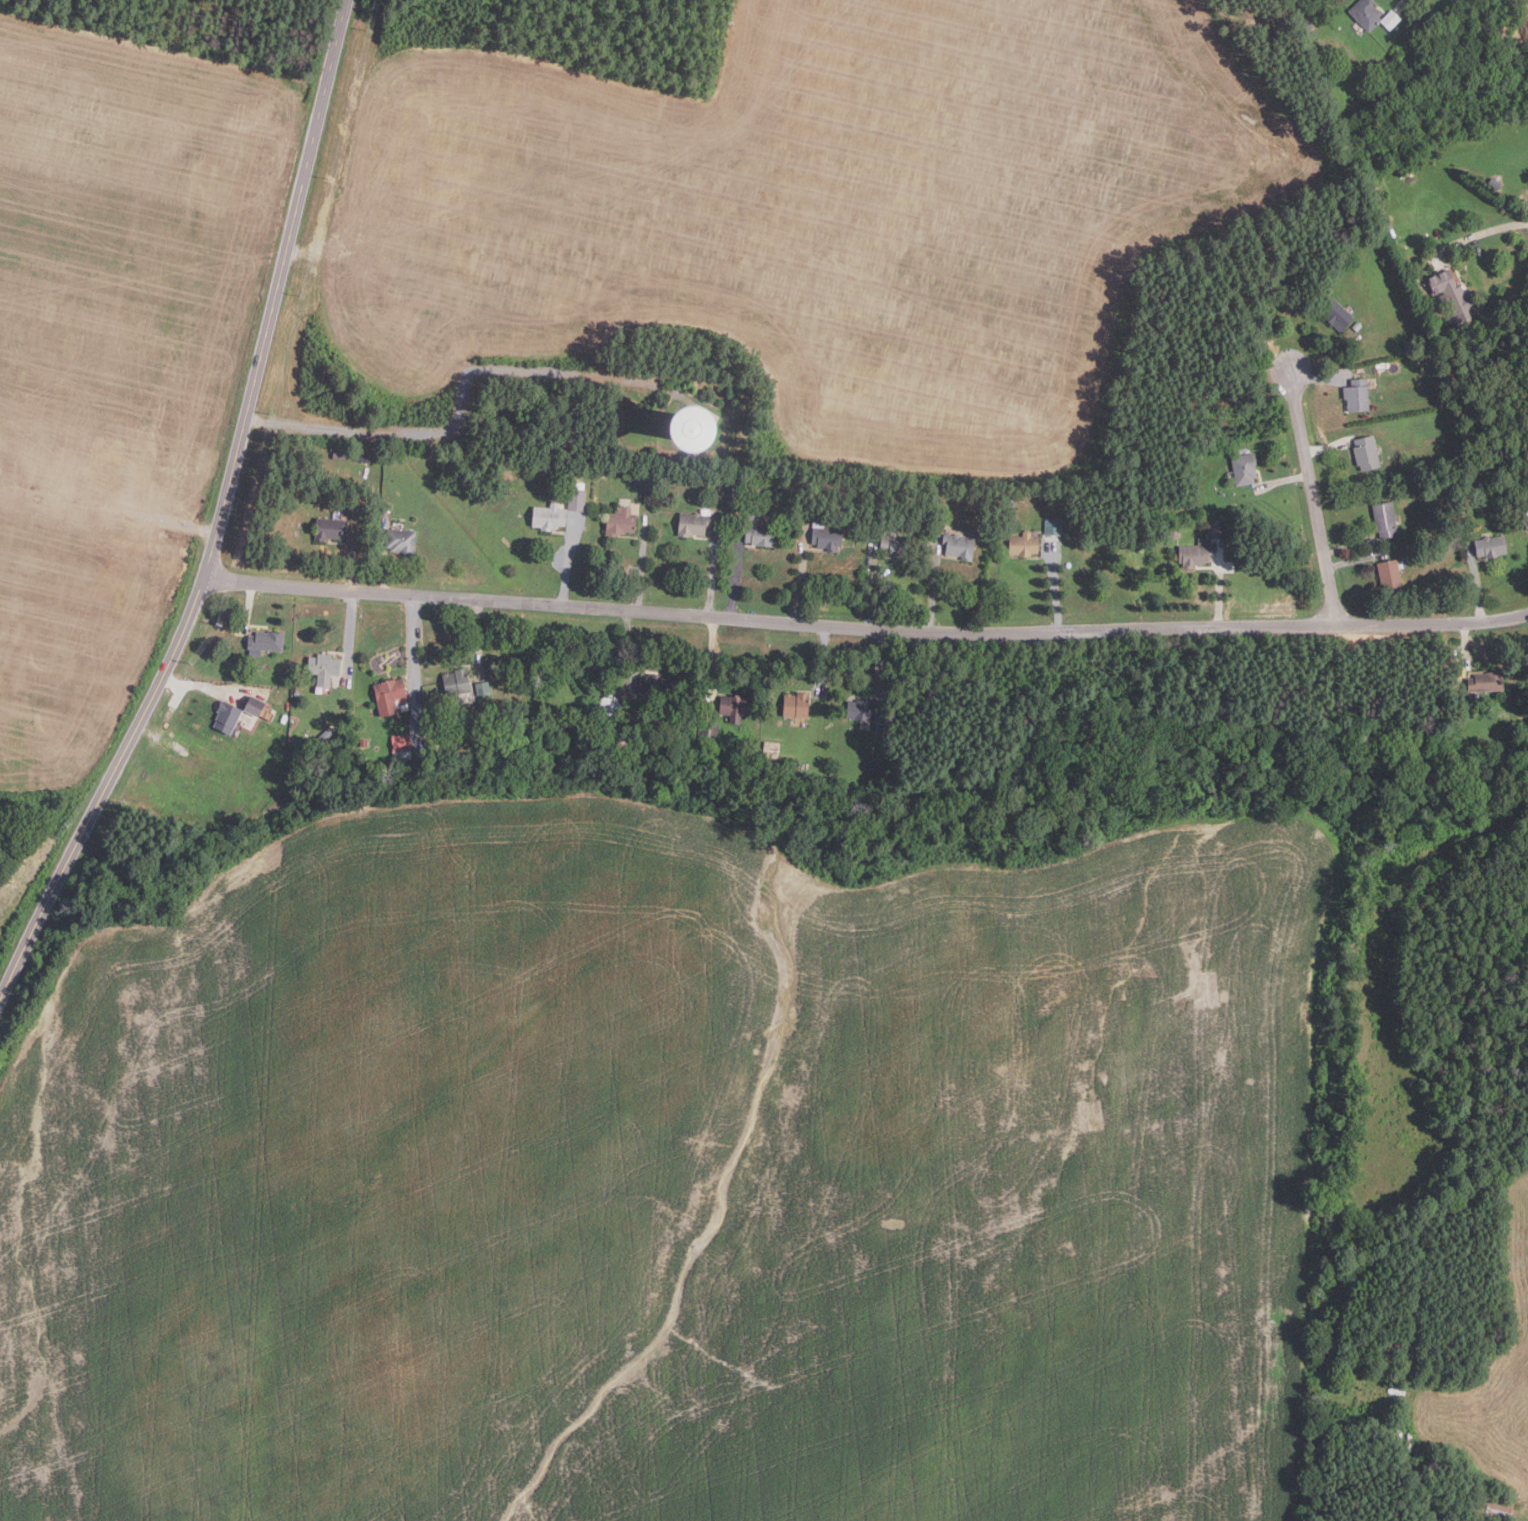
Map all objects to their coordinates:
road: (1400, 10)
building: (1366, 13)
road: (1474, 235)
building: (1453, 295)
building: (1442, 301)
building: (1338, 315)
building: (1358, 327)
road: (1318, 353)
road: (1315, 378)
building: (1358, 394)
building: (1444, 400)
road: (464, 405)
water tower: (687, 415)
building: (666, 429)
road: (1326, 447)
building: (1367, 452)
building: (1245, 468)
building: (640, 478)
building: (721, 481)
road: (1283, 482)
building: (740, 492)
road: (1315, 496)
building: (577, 499)
building: (1523, 510)
building: (549, 515)
building: (1386, 519)
road: (222, 520)
building: (621, 520)
building: (694, 522)
building: (1053, 526)
building: (330, 527)
building: (1216, 528)
building: (758, 531)
building: (1174, 532)
building: (826, 536)
building: (401, 540)
building: (1024, 544)
building: (896, 545)
building: (960, 545)
road: (1349, 545)
building: (1491, 545)
building: (1196, 552)
road: (570, 560)
road: (382, 561)
road: (1353, 561)
road: (355, 565)
road: (640, 569)
building: (136, 570)
road: (712, 570)
road: (735, 571)
building: (1391, 573)
road: (802, 578)
road: (1220, 586)
road: (1054, 587)
road: (1478, 587)
road: (933, 588)
road: (871, 589)
road: (248, 606)
road: (866, 628)
road: (350, 630)
road: (479, 635)
building: (265, 641)
road: (630, 645)
road: (1465, 647)
road: (824, 658)
road: (711, 664)
building: (324, 667)
road: (416, 669)
building: (285, 675)
road: (884, 675)
building: (1487, 681)
building: (457, 682)
building: (653, 685)
road: (203, 686)
building: (483, 688)
building: (297, 693)
building: (389, 694)
building: (610, 703)
building: (797, 704)
building: (254, 705)
building: (735, 705)
building: (862, 709)
building: (226, 716)
building: (711, 730)
building: (620, 736)
building: (880, 741)
building: (363, 742)
building: (402, 742)
building: (771, 749)
building: (1500, 1511)

